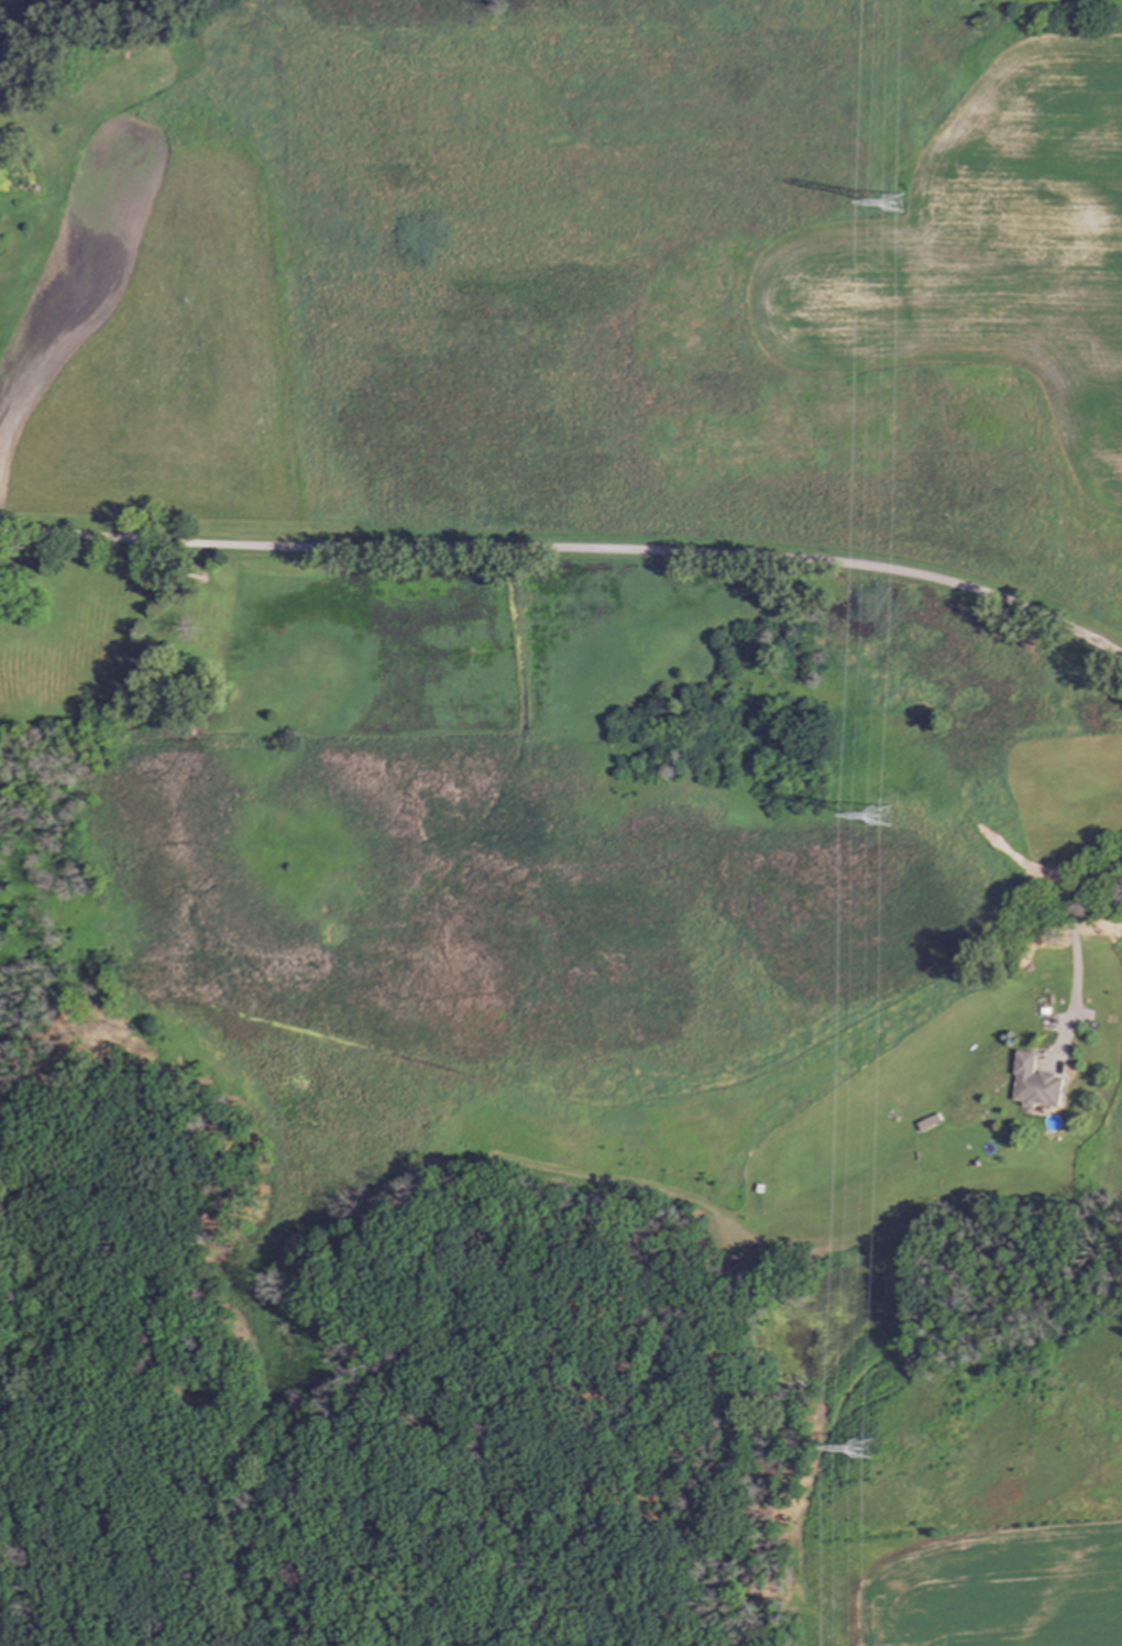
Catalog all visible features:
power tower: (892, 208)
road: (570, 552)
power tower: (877, 816)
road: (1075, 946)
building: (1026, 1067)
power tower: (865, 1450)

